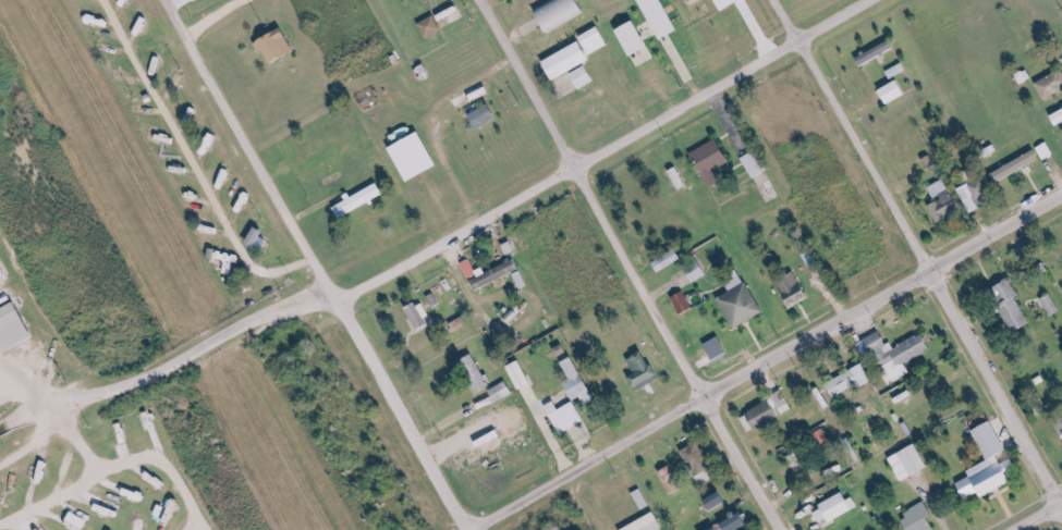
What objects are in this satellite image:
building: (694, 0)
building: (730, 3)
building: (562, 12)
road: (215, 16)
building: (662, 17)
building: (432, 27)
building: (636, 38)
building: (596, 40)
building: (278, 46)
building: (877, 52)
building: (570, 60)
building: (585, 77)
building: (1052, 85)
building: (896, 91)
building: (486, 116)
building: (1059, 118)
road: (600, 150)
railway: (553, 155)
building: (417, 157)
building: (712, 161)
building: (755, 164)
building: (1018, 165)
building: (978, 195)
building: (362, 199)
building: (945, 201)
road: (917, 255)
building: (672, 260)
road: (316, 264)
road: (631, 264)
building: (471, 269)
building: (4, 273)
building: (699, 273)
building: (497, 275)
building: (523, 280)
building: (795, 289)
building: (684, 303)
building: (742, 303)
building: (1013, 306)
building: (1052, 306)
building: (423, 317)
building: (14, 326)
building: (720, 349)
building: (898, 354)
road: (765, 362)
road: (166, 368)
building: (644, 371)
building: (476, 374)
building: (522, 375)
building: (578, 382)
building: (844, 383)
building: (503, 392)
building: (762, 416)
building: (566, 417)
building: (978, 419)
building: (1060, 424)
road: (68, 441)
road: (30, 443)
building: (698, 459)
building: (911, 463)
road: (112, 465)
building: (993, 466)
building: (673, 480)
building: (15, 483)
building: (643, 498)
building: (721, 500)
building: (837, 507)
road: (1039, 517)
building: (920, 518)
building: (78, 521)
building: (738, 521)
building: (649, 523)
building: (720, 528)

